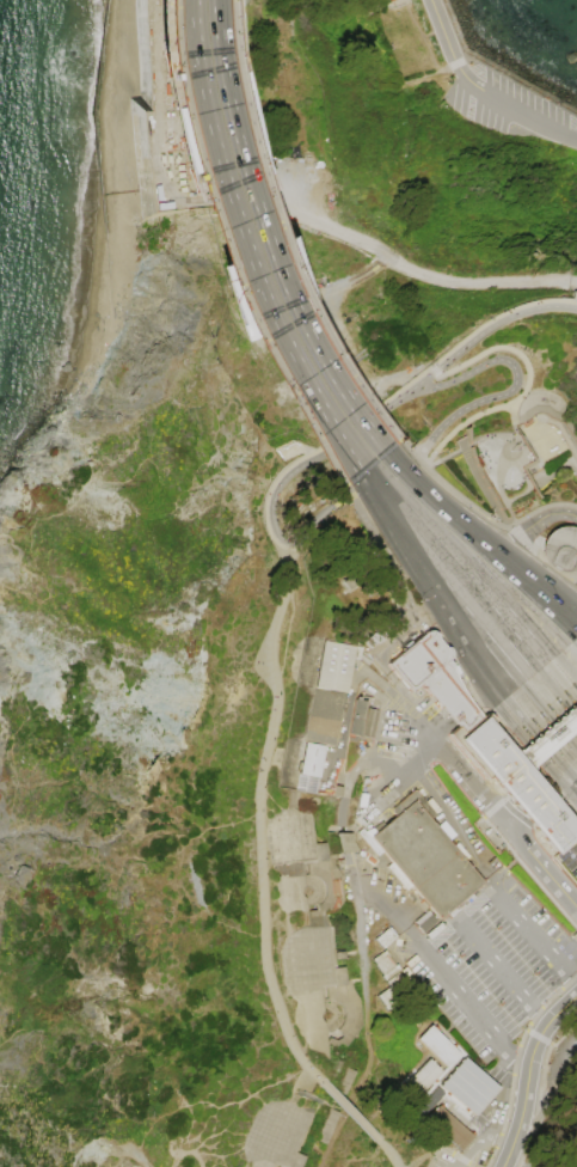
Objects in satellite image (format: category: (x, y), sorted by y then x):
building: (386, 0)
building: (388, 0)
road: (393, 4)
road: (426, 35)
road: (444, 38)
road: (458, 62)
road: (495, 71)
road: (425, 75)
road: (492, 97)
parking lot: (508, 106)
road: (550, 129)
road: (269, 234)
road: (252, 239)
road: (229, 249)
road: (211, 255)
road: (410, 269)
road: (572, 280)
road: (575, 295)
road: (572, 304)
road: (499, 320)
road: (434, 368)
road: (424, 380)
road: (515, 384)
road: (524, 389)
road: (512, 411)
road: (520, 418)
road: (560, 429)
road: (496, 436)
road: (511, 440)
road: (462, 442)
road: (406, 447)
flagpole: (509, 450)
road: (318, 457)
road: (419, 463)
road: (484, 493)
road: (434, 500)
road: (469, 503)
road: (539, 508)
road: (394, 513)
road: (323, 514)
road: (546, 517)
road: (504, 538)
building: (559, 548)
road: (540, 556)
road: (474, 568)
road: (523, 575)
road: (473, 579)
road: (576, 579)
building: (346, 585)
road: (471, 591)
road: (407, 604)
road: (567, 611)
park: (301, 612)
road: (479, 616)
road: (566, 616)
road: (441, 624)
road: (468, 633)
road: (503, 661)
road: (495, 684)
road: (552, 703)
building: (323, 714)
toll booth: (576, 714)
road: (345, 716)
toll booth: (567, 721)
building: (372, 722)
toll booth: (559, 728)
toll booth: (551, 735)
building: (548, 737)
building: (481, 740)
toll booth: (542, 743)
road: (441, 745)
toll booth: (532, 751)
road: (546, 777)
road: (560, 782)
road: (560, 784)
road: (430, 802)
road: (493, 806)
road: (505, 811)
road: (259, 817)
road: (502, 817)
road: (514, 819)
building: (425, 855)
parking lot: (570, 857)
road: (542, 866)
road: (529, 872)
building: (462, 905)
road: (526, 927)
building: (311, 933)
building: (348, 935)
building: (387, 937)
parking lot: (475, 941)
road: (481, 948)
building: (381, 957)
building: (386, 964)
building: (392, 972)
road: (441, 973)
building: (394, 979)
road: (575, 980)
building: (393, 990)
road: (541, 1018)
road: (538, 1037)
building: (438, 1045)
road: (515, 1062)
road: (518, 1064)
road: (542, 1071)
road: (526, 1073)
road: (553, 1075)
road: (300, 1079)
building: (422, 1080)
building: (344, 1081)
building: (471, 1086)
road: (350, 1112)
building: (327, 1125)
building: (450, 1129)
parking lot: (485, 1131)
road: (532, 1134)
building: (275, 1135)
road: (303, 1139)
road: (495, 1144)
road: (447, 1149)
road: (466, 1151)
road: (389, 1153)
road: (401, 1166)

